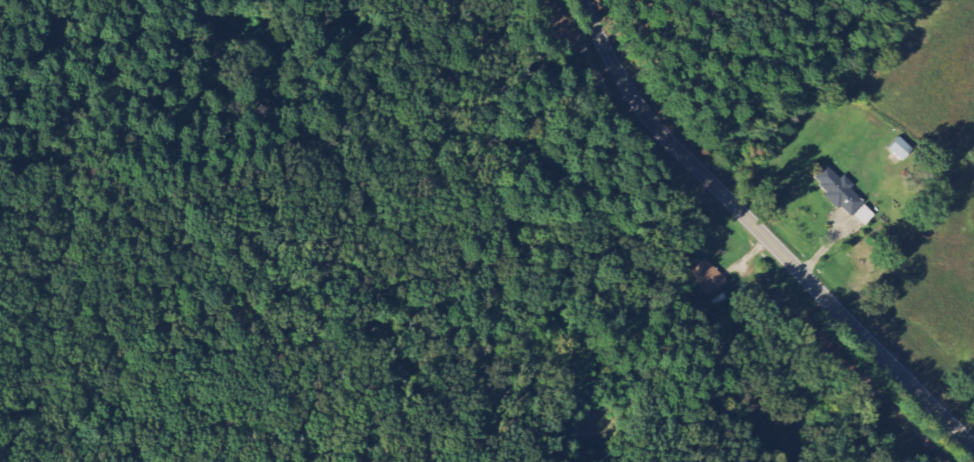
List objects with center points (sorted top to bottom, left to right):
building: (899, 149)
building: (842, 195)
road: (765, 236)
building: (711, 277)

